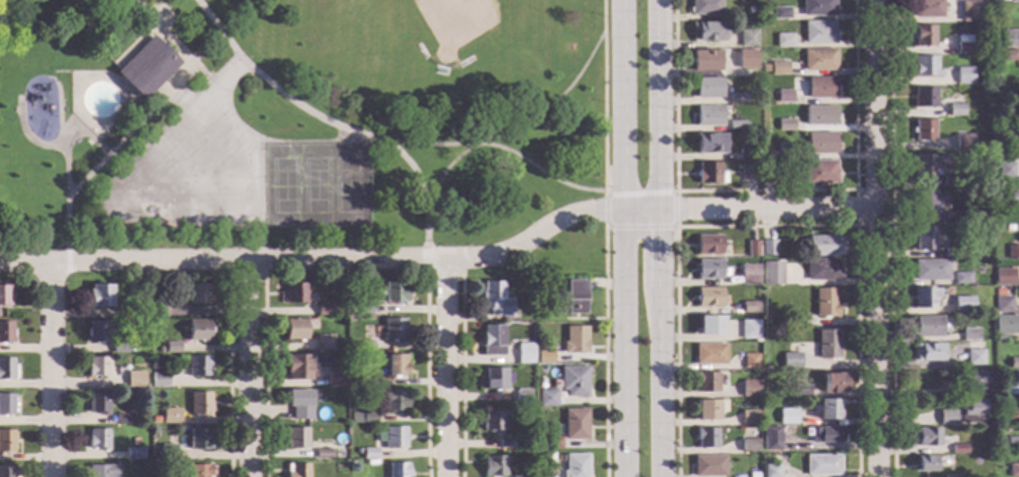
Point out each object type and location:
building: (1004, 0)
building: (1014, 0)
road: (136, 4)
building: (705, 7)
building: (817, 8)
building: (926, 8)
building: (969, 10)
building: (749, 11)
building: (780, 13)
road: (153, 20)
park: (456, 29)
building: (707, 31)
building: (818, 32)
building: (923, 36)
building: (747, 38)
building: (1011, 38)
building: (784, 40)
building: (962, 44)
road: (134, 45)
building: (202, 50)
building: (1009, 56)
building: (746, 59)
building: (818, 60)
building: (704, 61)
building: (924, 66)
building: (146, 67)
building: (778, 68)
building: (764, 69)
building: (963, 76)
road: (221, 87)
building: (708, 88)
building: (820, 88)
road: (277, 90)
building: (784, 96)
road: (602, 97)
building: (924, 97)
building: (736, 98)
road: (186, 99)
road: (210, 100)
building: (955, 110)
building: (820, 115)
building: (708, 116)
park: (297, 122)
road: (138, 124)
building: (736, 125)
building: (784, 125)
building: (923, 130)
road: (516, 131)
road: (87, 132)
building: (963, 142)
building: (1010, 142)
building: (709, 143)
building: (820, 143)
road: (504, 149)
building: (785, 151)
building: (744, 152)
road: (69, 161)
building: (929, 164)
building: (1005, 169)
road: (415, 170)
building: (748, 171)
building: (820, 172)
park: (193, 173)
building: (709, 174)
building: (767, 174)
building: (949, 181)
park: (315, 186)
road: (765, 191)
building: (1011, 198)
building: (924, 202)
road: (856, 208)
building: (951, 218)
road: (674, 225)
road: (85, 226)
road: (765, 226)
road: (427, 228)
road: (627, 238)
road: (657, 238)
road: (873, 238)
road: (890, 238)
building: (924, 238)
road: (262, 239)
building: (708, 245)
building: (824, 245)
building: (751, 248)
building: (767, 248)
building: (951, 252)
building: (1012, 252)
road: (441, 261)
road: (69, 262)
road: (263, 263)
building: (709, 269)
building: (822, 269)
building: (929, 269)
building: (772, 273)
building: (748, 274)
road: (428, 275)
road: (245, 276)
building: (1003, 276)
building: (960, 277)
building: (395, 292)
building: (997, 292)
building: (197, 293)
building: (294, 293)
building: (5, 295)
building: (98, 295)
building: (575, 297)
building: (709, 297)
building: (924, 297)
building: (495, 300)
building: (825, 302)
building: (962, 304)
building: (1002, 304)
building: (530, 306)
building: (749, 307)
building: (134, 308)
building: (157, 308)
building: (324, 309)
building: (364, 310)
building: (797, 321)
building: (709, 325)
building: (927, 325)
building: (1004, 325)
building: (295, 329)
building: (393, 329)
building: (748, 329)
building: (96, 331)
building: (197, 331)
building: (5, 332)
building: (969, 334)
building: (999, 338)
building: (575, 339)
building: (492, 340)
building: (339, 341)
building: (324, 343)
building: (827, 344)
building: (364, 346)
building: (119, 347)
building: (171, 347)
building: (160, 349)
building: (927, 352)
building: (524, 353)
road: (605, 353)
building: (709, 354)
building: (973, 356)
building: (545, 357)
building: (790, 360)
building: (749, 361)
building: (1013, 362)
building: (152, 366)
building: (198, 366)
building: (396, 366)
building: (298, 367)
building: (5, 368)
building: (98, 368)
road: (248, 369)
road: (447, 369)
road: (52, 371)
building: (952, 375)
road: (228, 376)
road: (264, 376)
road: (425, 376)
road: (461, 376)
building: (335, 377)
building: (494, 379)
building: (134, 380)
building: (158, 380)
building: (574, 381)
building: (705, 381)
building: (364, 382)
building: (973, 382)
building: (833, 383)
building: (749, 388)
building: (1013, 389)
building: (800, 390)
building: (522, 395)
building: (548, 398)
building: (391, 400)
building: (97, 403)
building: (6, 404)
building: (200, 404)
building: (300, 404)
building: (826, 409)
building: (707, 410)
building: (973, 412)
building: (1012, 413)
building: (170, 416)
building: (787, 416)
building: (748, 417)
building: (946, 417)
building: (363, 418)
building: (122, 419)
building: (155, 420)
building: (493, 421)
building: (575, 424)
building: (827, 435)
building: (926, 436)
building: (297, 438)
building: (394, 438)
building: (706, 438)
building: (771, 438)
building: (199, 439)
building: (97, 440)
building: (6, 441)
building: (134, 441)
building: (530, 442)
building: (1012, 442)
building: (505, 443)
building: (552, 443)
building: (748, 445)
building: (958, 449)
building: (168, 452)
building: (369, 453)
building: (133, 454)
building: (323, 454)
building: (768, 458)
building: (925, 463)
building: (821, 465)
building: (493, 466)
building: (576, 466)
building: (709, 466)
building: (1013, 469)
building: (297, 470)
building: (398, 470)
building: (6, 471)
building: (101, 471)
building: (198, 471)
building: (771, 471)
building: (154, 473)
building: (754, 473)
building: (519, 476)
building: (950, 476)

